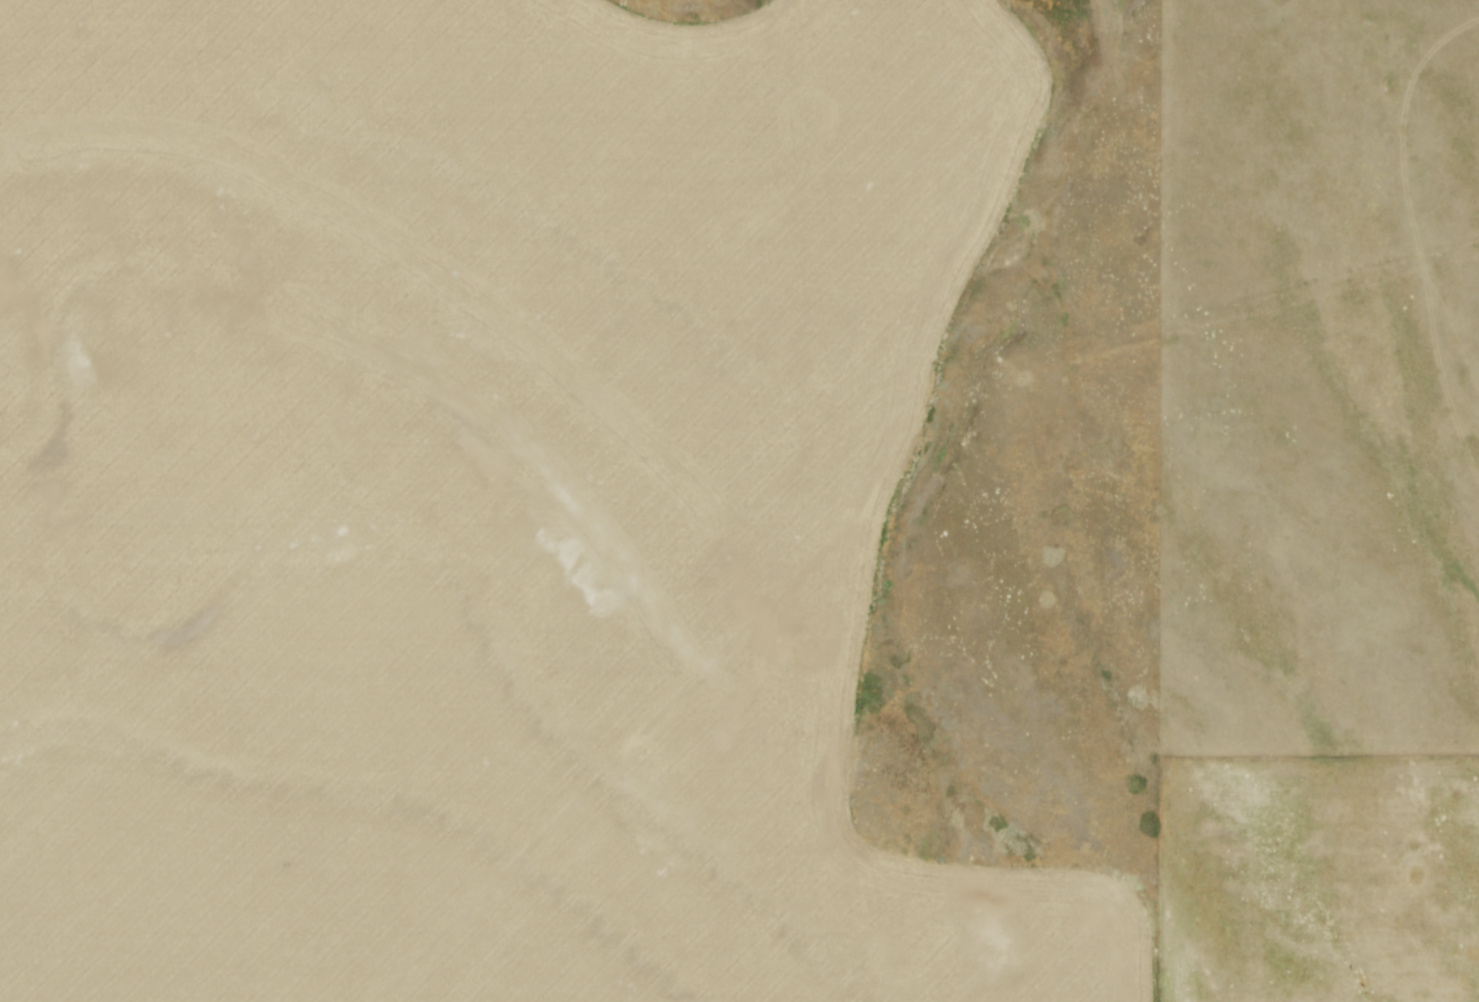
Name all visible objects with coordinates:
dam: (1109, 35)
crop: (549, 529)

